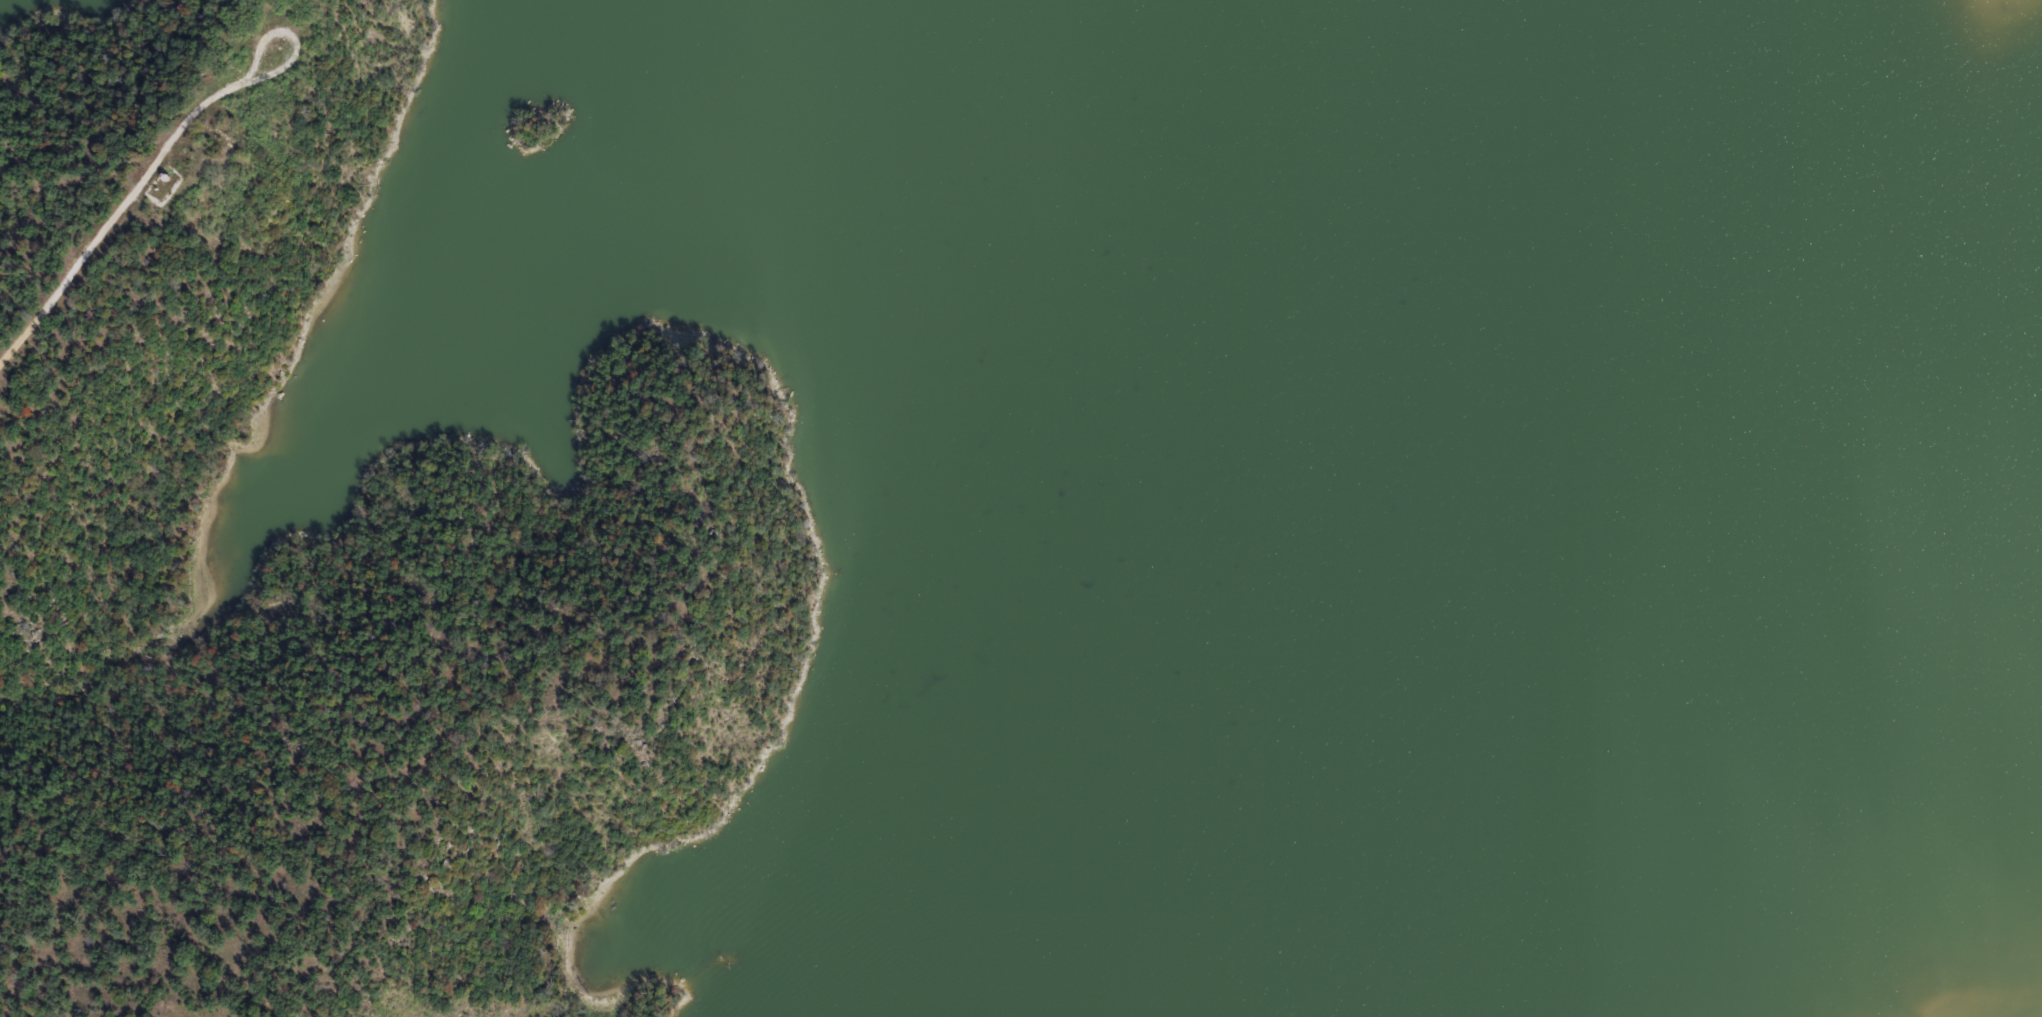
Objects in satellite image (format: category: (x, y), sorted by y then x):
road: (119, 211)

